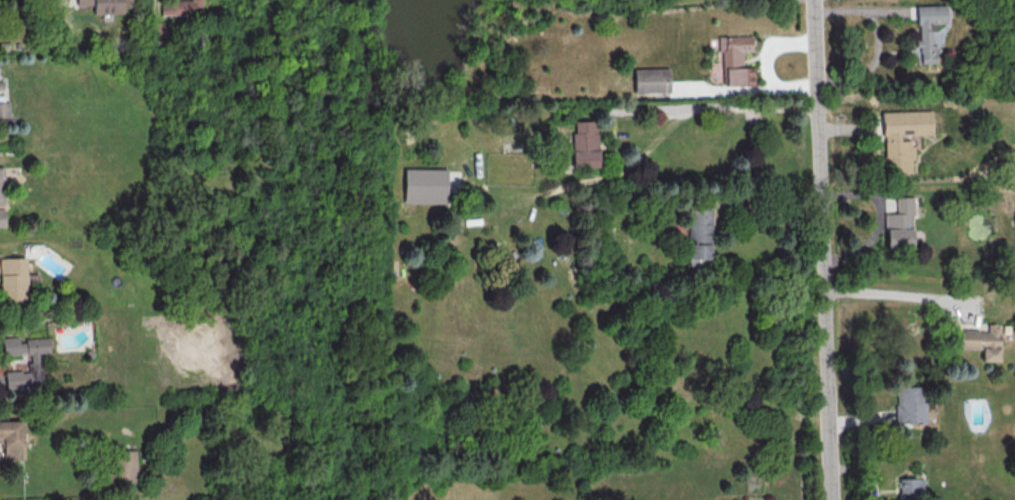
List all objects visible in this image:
building: (106, 7)
building: (180, 7)
building: (928, 28)
building: (735, 59)
building: (651, 80)
building: (1, 85)
building: (3, 105)
road: (714, 108)
building: (897, 142)
building: (584, 144)
building: (425, 185)
building: (2, 197)
building: (1014, 212)
road: (771, 213)
road: (880, 217)
building: (900, 224)
building: (699, 233)
road: (823, 249)
building: (13, 281)
road: (906, 297)
building: (981, 341)
building: (35, 362)
building: (910, 404)
building: (12, 439)
building: (125, 467)
building: (911, 488)

